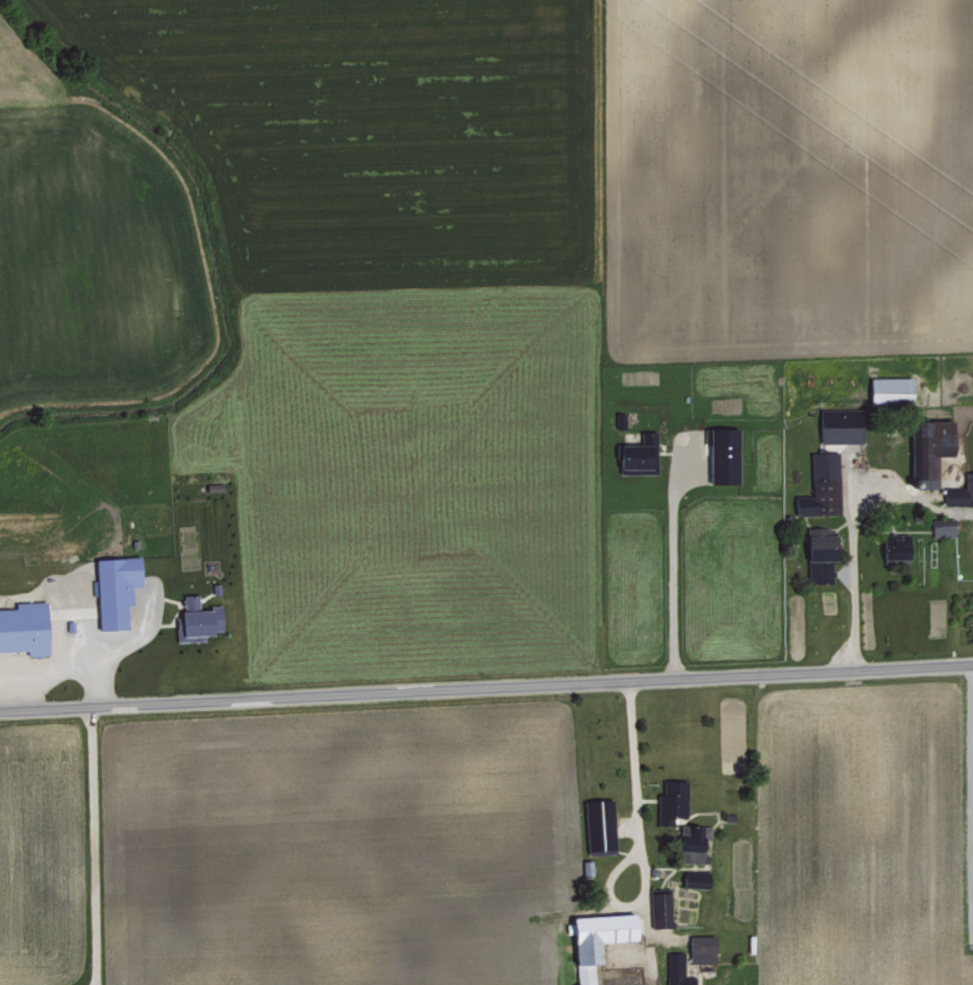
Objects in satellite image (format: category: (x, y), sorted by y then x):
building: (890, 389)
building: (840, 424)
building: (930, 448)
building: (637, 452)
building: (722, 453)
building: (821, 485)
road: (612, 490)
building: (960, 490)
building: (942, 529)
road: (852, 548)
building: (896, 548)
building: (819, 556)
road: (671, 563)
building: (114, 588)
building: (196, 618)
building: (23, 626)
road: (486, 687)
road: (632, 743)
building: (680, 819)
building: (599, 825)
road: (350, 840)
road: (93, 846)
building: (659, 908)
building: (596, 939)
building: (701, 952)
building: (676, 969)

